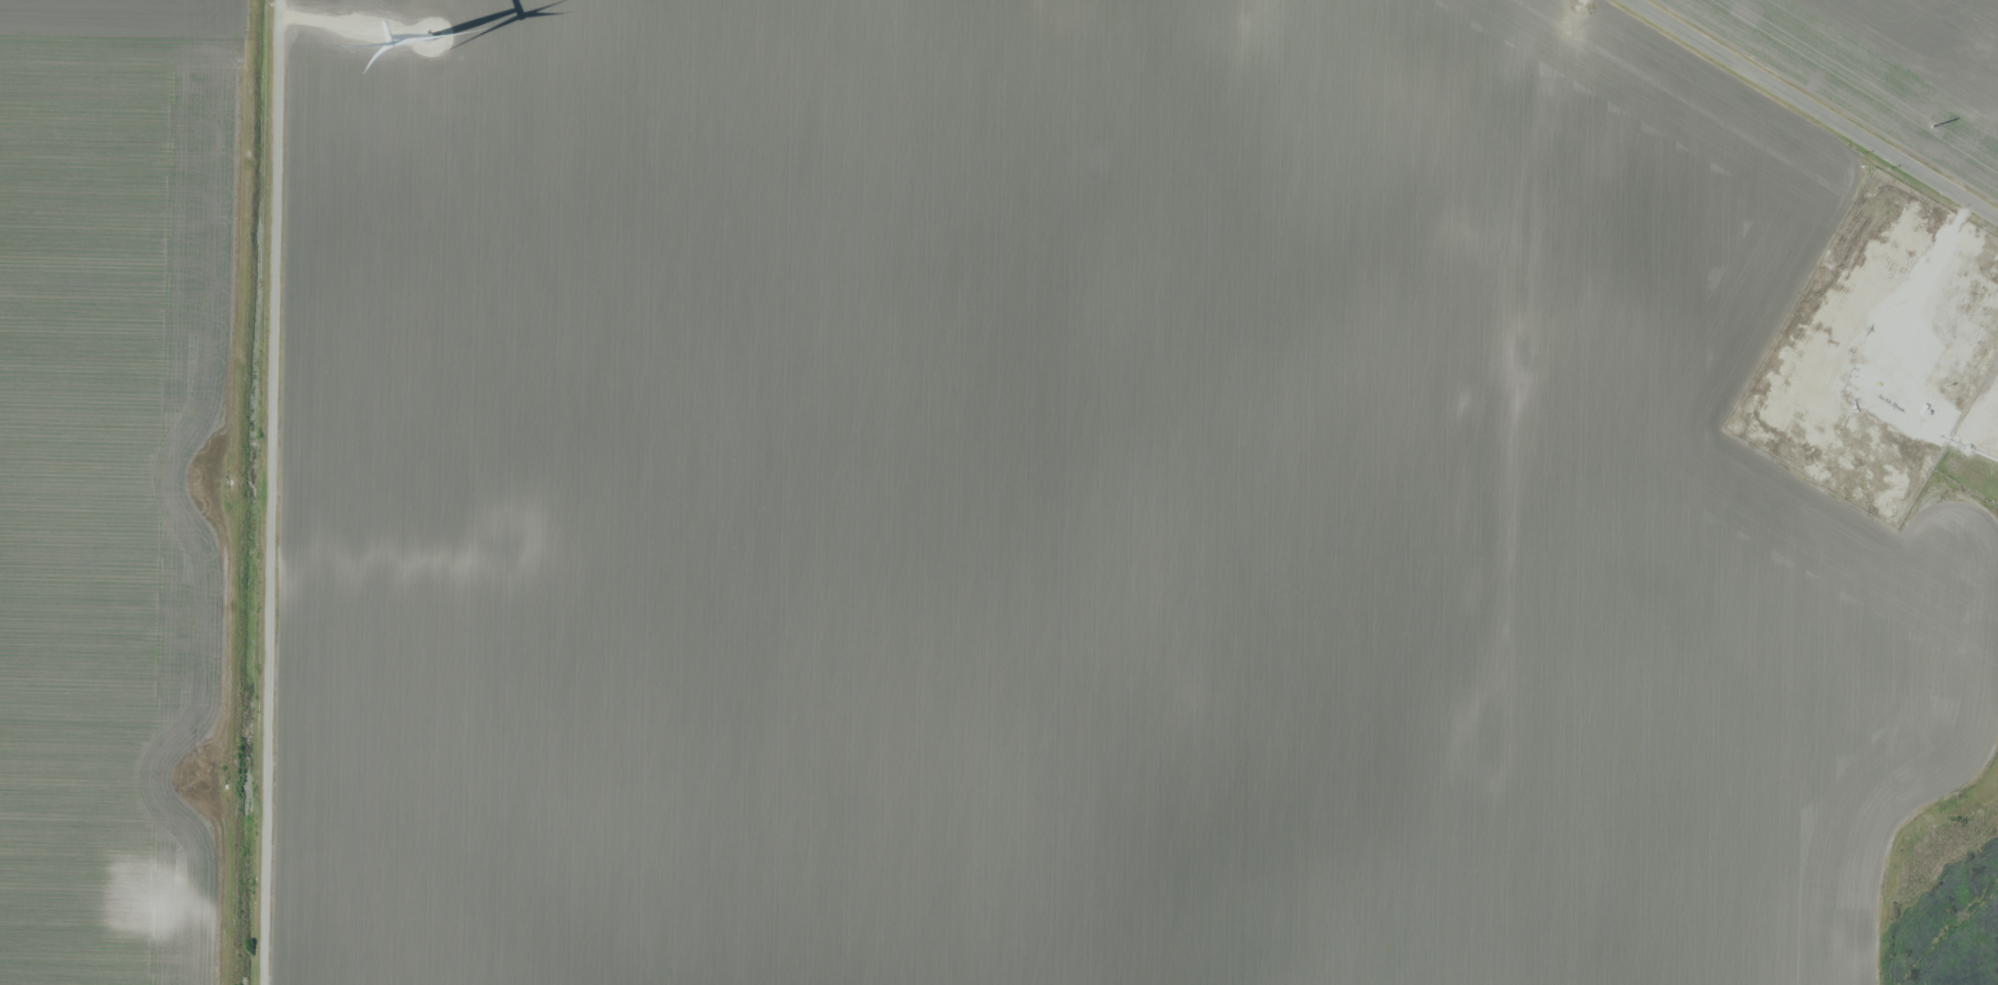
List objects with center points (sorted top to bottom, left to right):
road: (338, 26)
wind turbine: (442, 43)
road: (1810, 110)
power tower: (1930, 124)
road: (266, 492)

